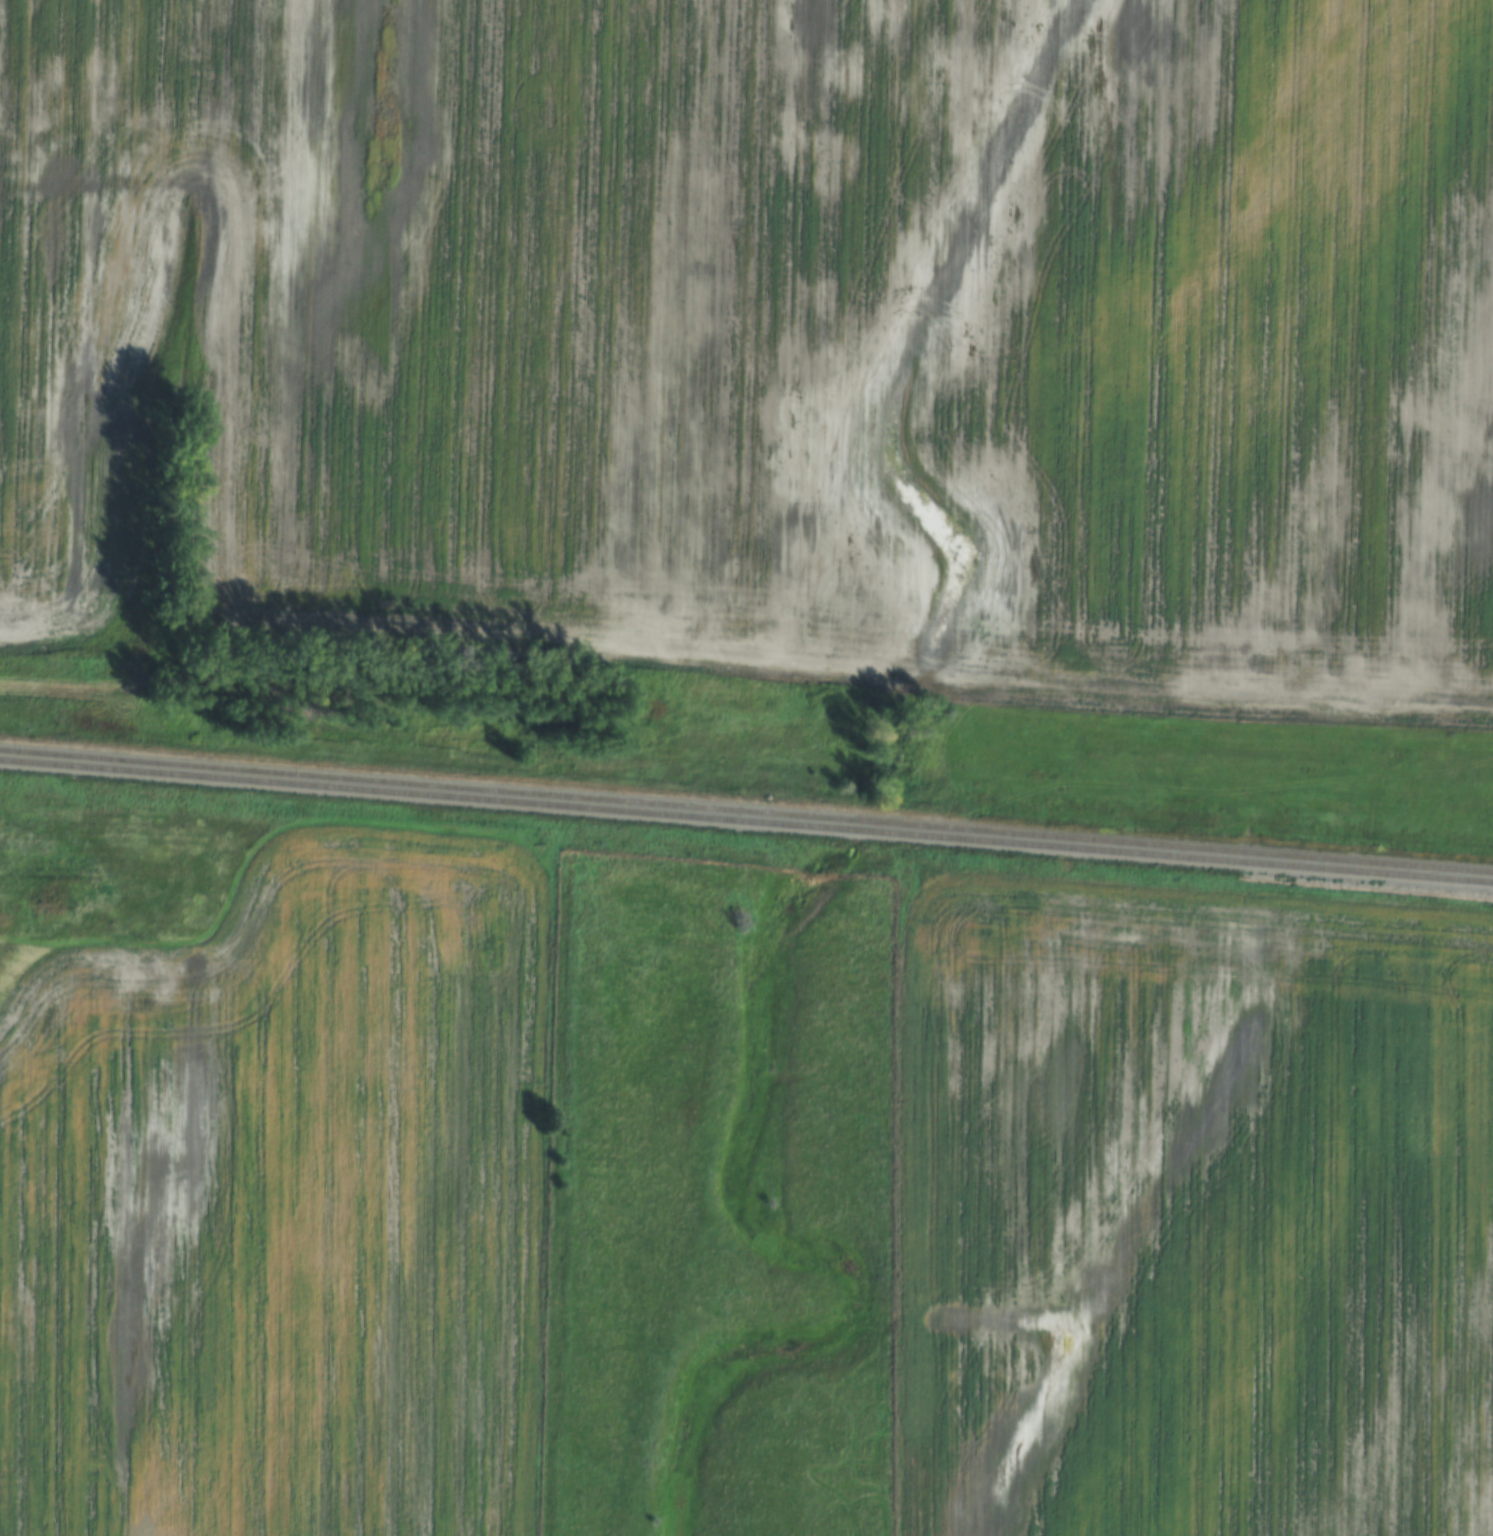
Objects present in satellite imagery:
building: (496, 543)
railway: (746, 809)
railway: (746, 819)

